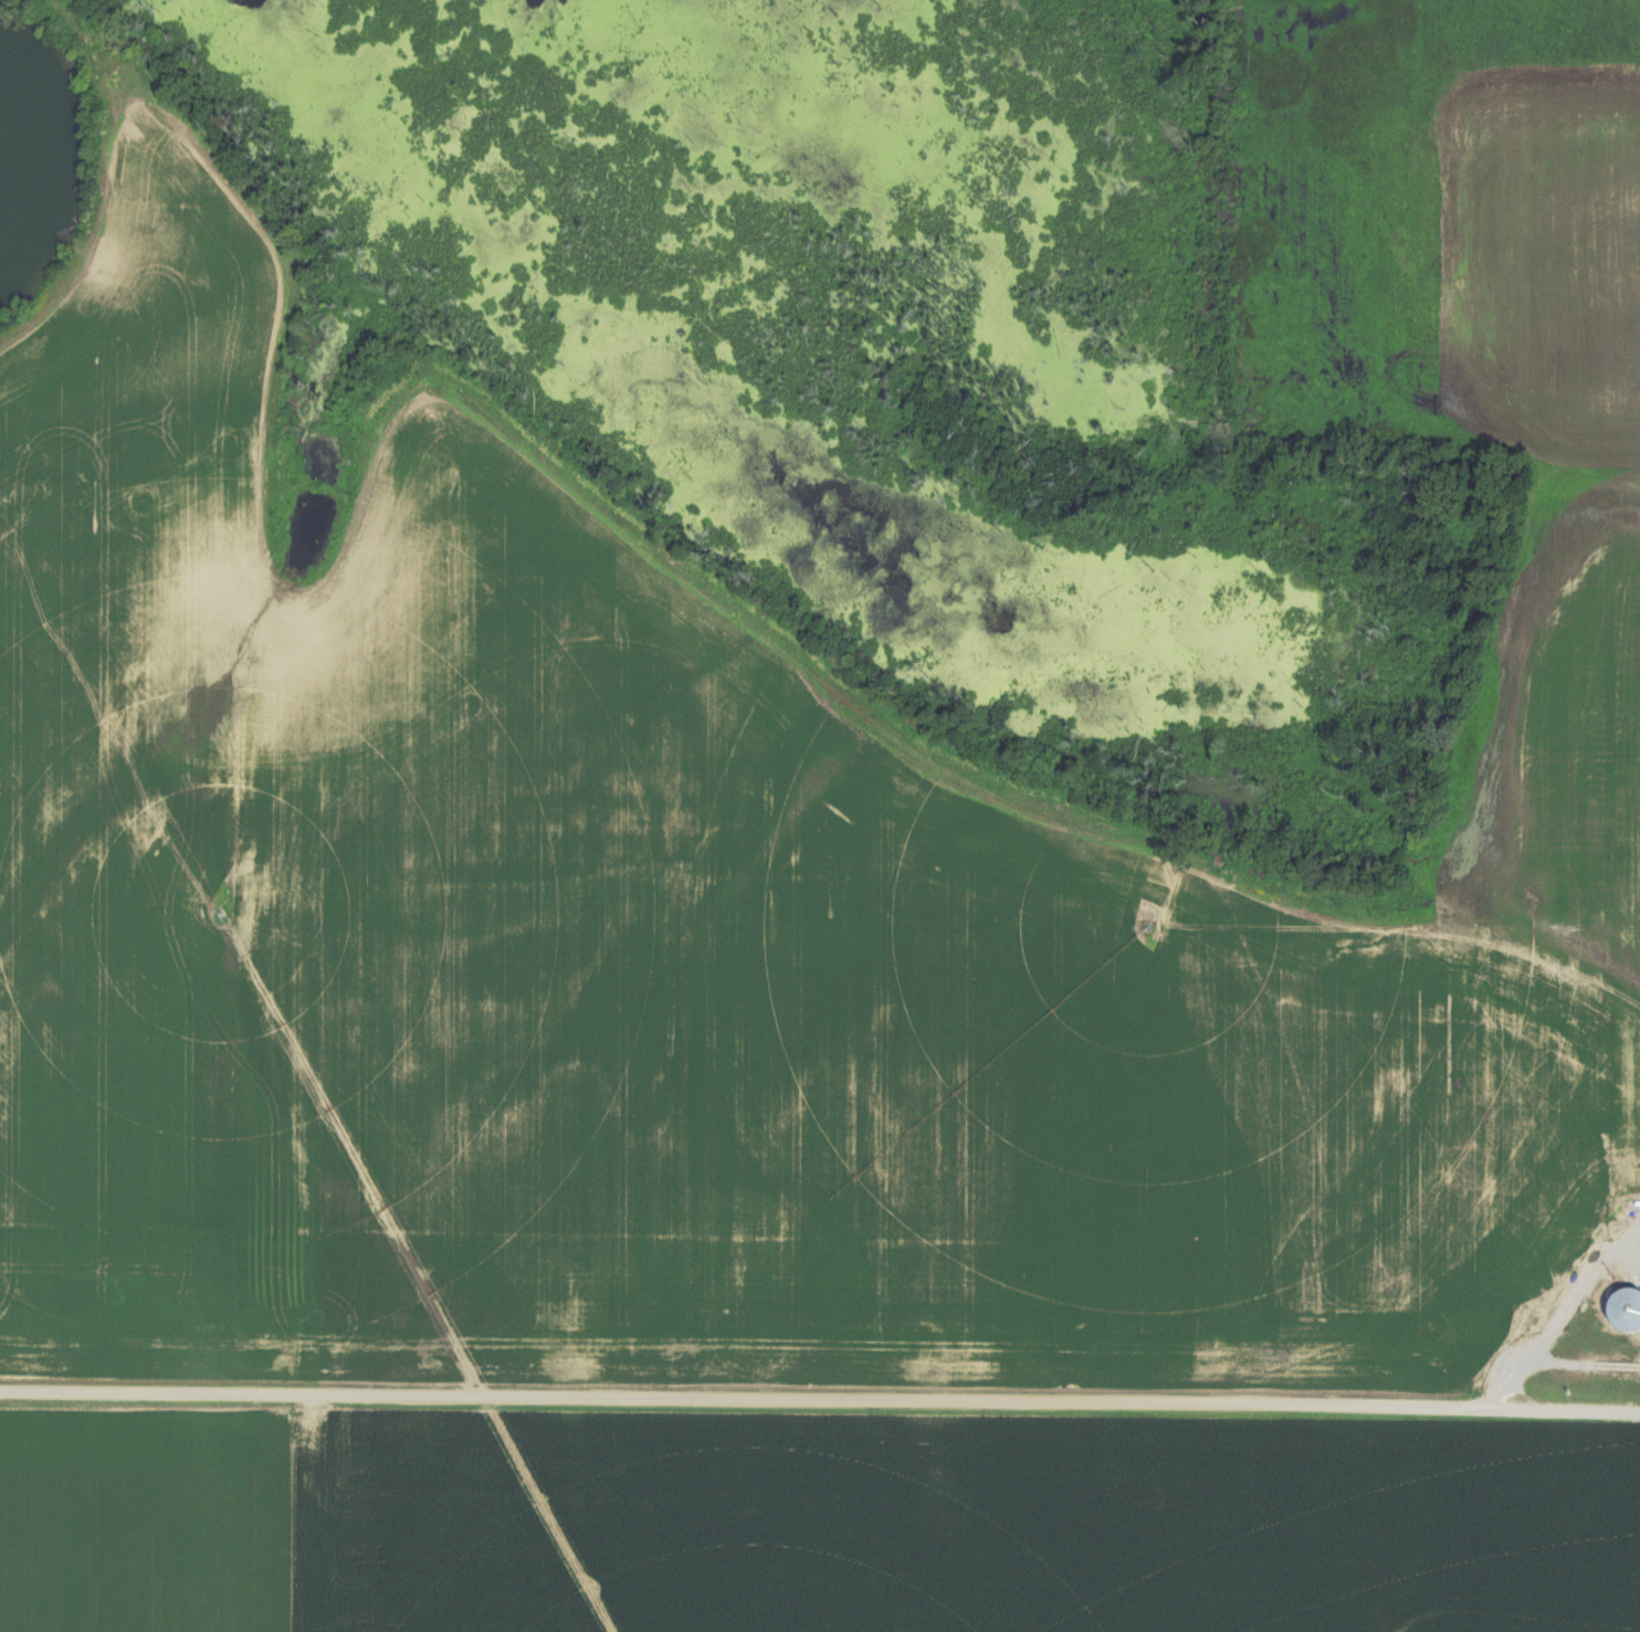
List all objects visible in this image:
road: (1556, 1363)
road: (820, 1400)

